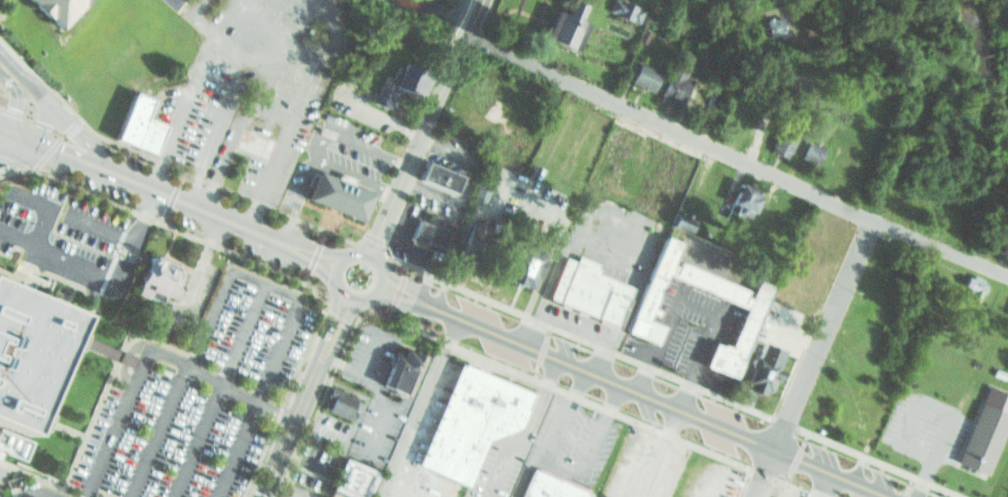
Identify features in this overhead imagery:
river: (418, 5)
building: (55, 7)
road: (193, 7)
building: (622, 9)
road: (258, 21)
road: (294, 21)
building: (554, 22)
building: (775, 27)
river: (994, 52)
road: (240, 58)
building: (697, 61)
building: (638, 75)
building: (403, 85)
building: (669, 87)
road: (1, 92)
road: (27, 97)
road: (185, 113)
building: (131, 120)
road: (32, 122)
road: (420, 126)
road: (16, 130)
road: (214, 130)
building: (780, 133)
road: (282, 138)
building: (252, 140)
road: (315, 145)
road: (55, 146)
road: (16, 149)
building: (807, 153)
road: (734, 158)
road: (16, 164)
building: (441, 179)
building: (326, 191)
road: (89, 195)
building: (481, 195)
road: (169, 197)
building: (732, 199)
road: (183, 200)
building: (744, 203)
road: (70, 214)
road: (249, 214)
road: (285, 214)
building: (677, 218)
road: (37, 223)
road: (133, 233)
building: (435, 233)
building: (1002, 235)
road: (373, 237)
building: (481, 247)
road: (56, 254)
road: (363, 254)
road: (311, 255)
building: (529, 266)
building: (150, 275)
road: (246, 277)
fountain: (355, 284)
building: (963, 286)
building: (975, 288)
road: (399, 289)
building: (589, 293)
road: (345, 295)
building: (750, 306)
building: (1004, 308)
road: (333, 319)
road: (313, 326)
road: (823, 334)
road: (544, 350)
road: (149, 352)
building: (112, 353)
building: (28, 356)
road: (498, 359)
building: (396, 367)
building: (758, 368)
road: (668, 374)
road: (214, 390)
road: (632, 390)
road: (303, 396)
building: (333, 402)
road: (949, 412)
building: (474, 424)
building: (981, 429)
road: (797, 456)
parking lot: (666, 469)
road: (766, 473)
road: (923, 476)
building: (347, 478)
road: (746, 482)
building: (545, 486)
road: (909, 486)
road: (35, 492)
building: (1007, 496)

